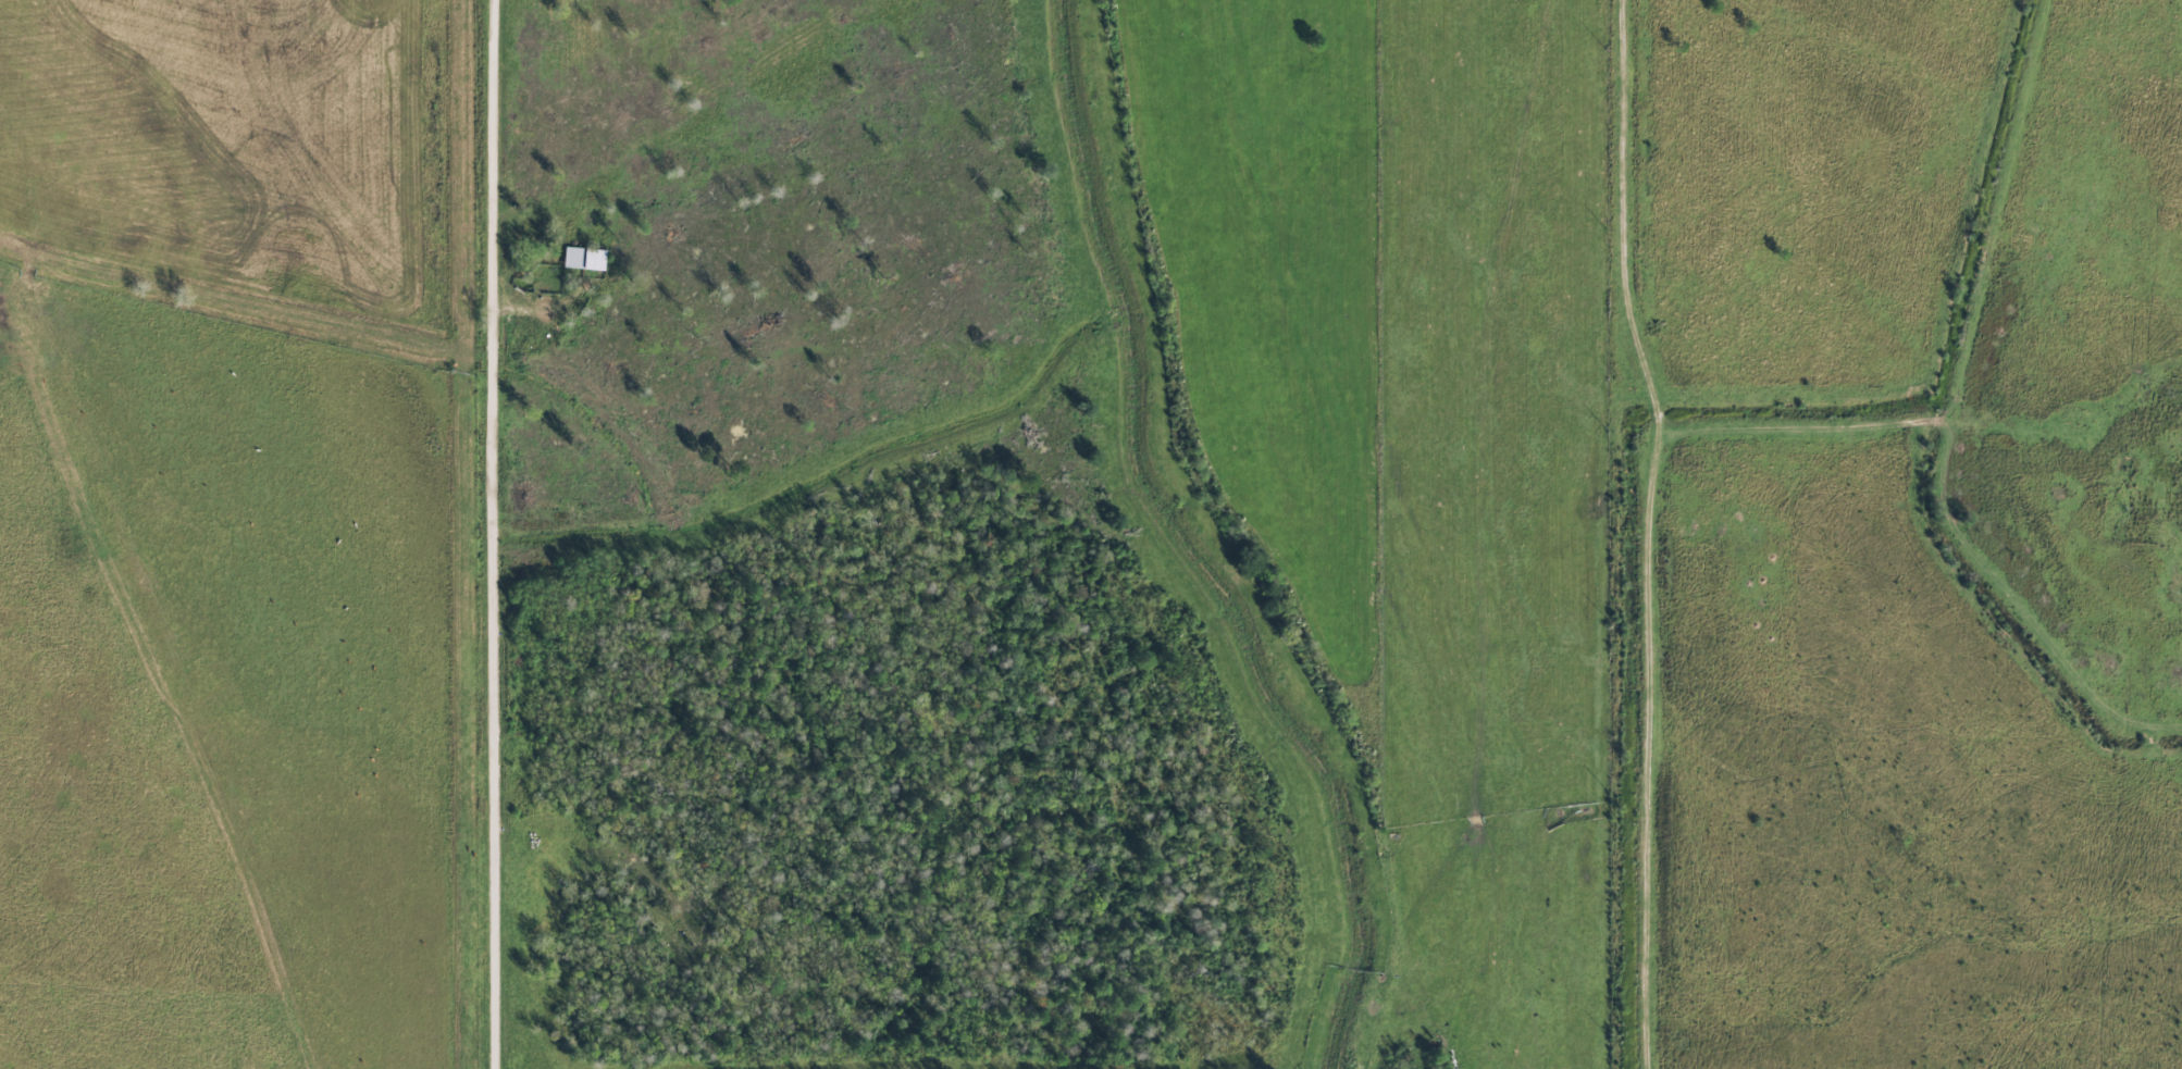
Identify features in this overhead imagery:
road: (1636, 212)
building: (583, 259)
road: (489, 534)

